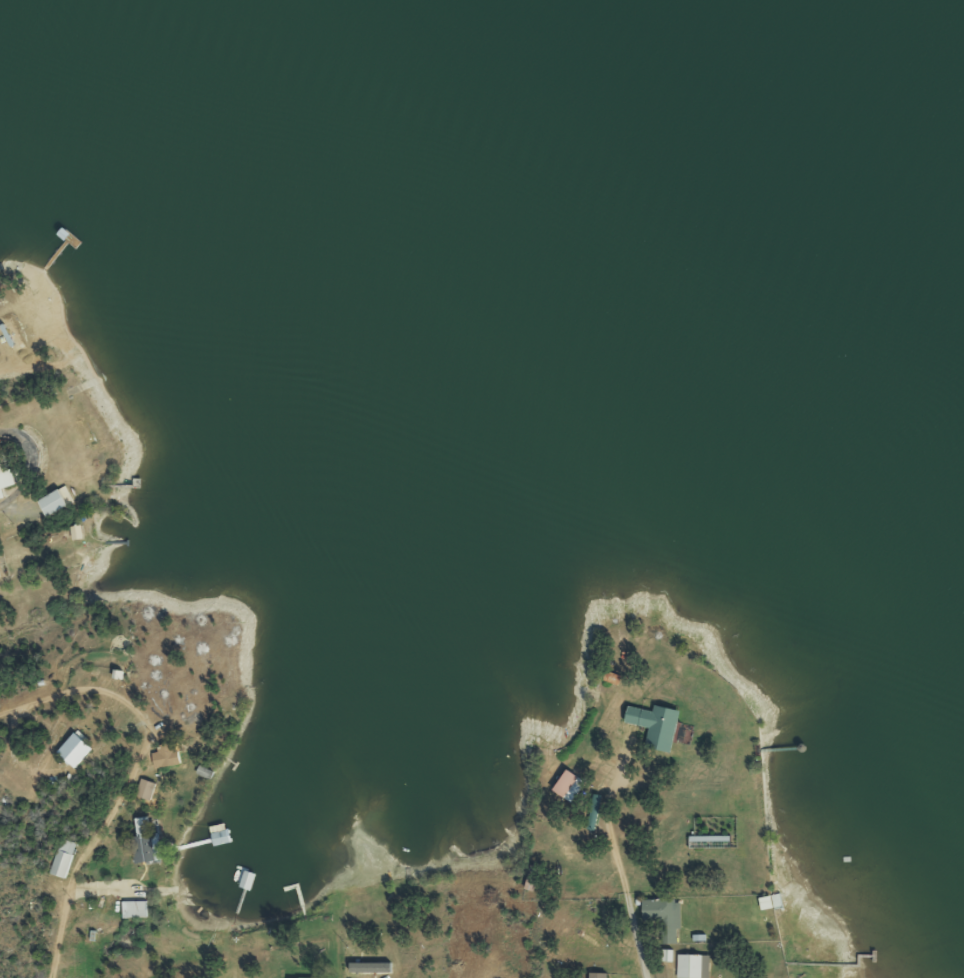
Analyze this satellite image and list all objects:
river: (788, 122)
building: (6, 477)
building: (53, 503)
building: (0, 575)
building: (653, 726)
building: (78, 749)
building: (164, 756)
building: (237, 766)
road: (129, 776)
building: (566, 787)
building: (146, 789)
building: (245, 819)
building: (143, 842)
building: (709, 842)
building: (58, 858)
building: (248, 869)
building: (133, 908)
building: (662, 917)
road: (639, 934)
building: (692, 966)
building: (595, 975)

